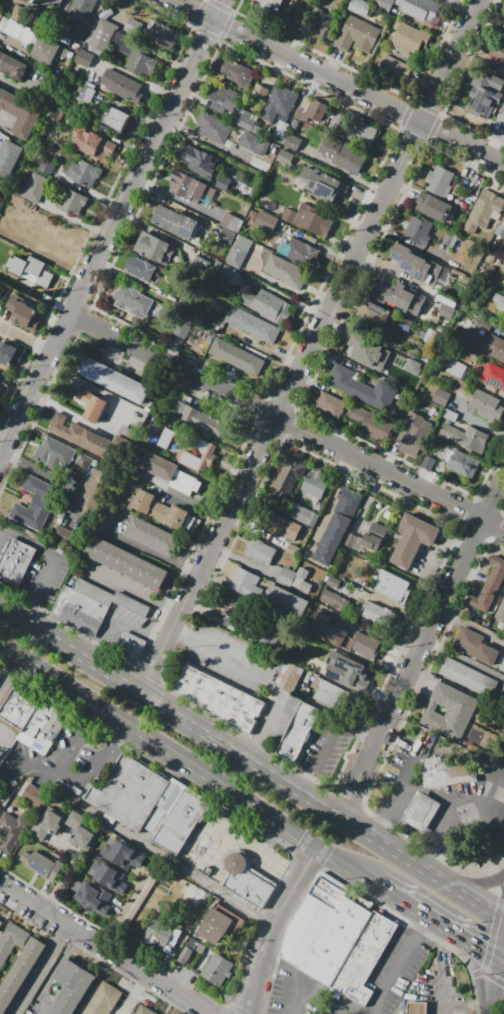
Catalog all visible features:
building: (67, 0)
building: (383, 3)
building: (269, 5)
building: (48, 7)
building: (359, 7)
building: (81, 10)
building: (421, 11)
building: (21, 15)
building: (321, 21)
building: (2, 23)
building: (14, 28)
building: (76, 31)
building: (502, 31)
building: (98, 35)
building: (357, 35)
building: (26, 36)
building: (162, 36)
road: (447, 37)
road: (295, 40)
building: (410, 42)
building: (47, 50)
building: (496, 51)
building: (84, 58)
road: (330, 62)
building: (12, 65)
building: (140, 66)
building: (391, 67)
building: (236, 73)
road: (338, 80)
road: (425, 81)
building: (119, 85)
building: (258, 91)
building: (484, 93)
building: (84, 94)
building: (218, 96)
building: (279, 104)
building: (502, 109)
building: (20, 112)
building: (310, 112)
building: (114, 119)
building: (246, 120)
road: (4, 121)
building: (214, 127)
building: (281, 129)
building: (361, 134)
building: (247, 141)
road: (497, 141)
building: (292, 142)
building: (98, 148)
building: (340, 157)
building: (8, 158)
building: (200, 162)
road: (470, 163)
building: (46, 166)
road: (344, 172)
building: (84, 173)
road: (493, 173)
building: (440, 181)
building: (223, 182)
building: (322, 184)
building: (32, 188)
road: (402, 188)
building: (191, 189)
road: (364, 196)
building: (71, 201)
building: (433, 206)
building: (483, 210)
building: (289, 215)
building: (164, 218)
building: (229, 221)
building: (312, 221)
building: (264, 222)
road: (353, 222)
road: (110, 227)
building: (188, 227)
road: (383, 228)
building: (500, 229)
building: (417, 230)
building: (226, 237)
building: (450, 238)
road: (343, 244)
building: (153, 249)
building: (301, 249)
building: (239, 251)
road: (337, 255)
road: (373, 263)
building: (416, 264)
building: (31, 270)
building: (282, 270)
building: (149, 273)
building: (229, 274)
building: (1, 291)
road: (316, 291)
building: (398, 297)
building: (130, 300)
building: (499, 302)
building: (267, 305)
building: (447, 311)
building: (23, 312)
building: (373, 312)
road: (317, 314)
building: (404, 324)
building: (180, 325)
building: (484, 325)
building: (256, 326)
building: (441, 329)
road: (25, 340)
building: (485, 344)
road: (310, 347)
building: (366, 347)
building: (9, 354)
road: (328, 354)
building: (235, 357)
road: (282, 357)
building: (456, 368)
building: (494, 376)
road: (226, 377)
building: (113, 379)
road: (308, 380)
building: (362, 388)
building: (441, 396)
building: (92, 405)
building: (486, 405)
building: (328, 406)
road: (61, 409)
building: (356, 415)
building: (449, 415)
road: (286, 421)
building: (57, 422)
building: (203, 422)
building: (376, 426)
building: (414, 430)
building: (467, 437)
building: (165, 438)
building: (89, 441)
building: (196, 451)
building: (53, 454)
building: (83, 462)
building: (461, 462)
road: (27, 464)
road: (231, 468)
building: (162, 471)
building: (286, 480)
building: (314, 484)
building: (91, 488)
building: (40, 497)
road: (212, 502)
building: (275, 505)
road: (194, 507)
building: (161, 510)
building: (302, 515)
building: (271, 523)
building: (337, 524)
building: (379, 529)
road: (253, 530)
building: (64, 536)
building: (153, 536)
building: (412, 539)
building: (352, 540)
road: (4, 541)
building: (371, 541)
building: (260, 553)
road: (240, 559)
road: (49, 560)
building: (125, 562)
road: (217, 562)
building: (14, 564)
road: (181, 566)
building: (295, 579)
building: (333, 582)
building: (246, 584)
building: (490, 585)
building: (391, 586)
road: (135, 591)
building: (287, 601)
building: (334, 601)
building: (91, 605)
road: (199, 606)
building: (500, 611)
building: (231, 613)
building: (372, 613)
road: (115, 621)
road: (374, 634)
building: (265, 636)
building: (343, 639)
building: (129, 647)
building: (475, 647)
road: (421, 650)
road: (465, 659)
building: (502, 666)
building: (343, 668)
building: (0, 674)
road: (9, 674)
building: (288, 676)
road: (259, 678)
building: (468, 678)
building: (331, 693)
building: (220, 698)
building: (449, 705)
road: (93, 715)
building: (31, 718)
road: (195, 729)
road: (118, 731)
building: (297, 732)
road: (326, 741)
road: (2, 745)
parking lot: (325, 749)
road: (186, 764)
building: (447, 772)
road: (71, 778)
building: (129, 792)
road: (431, 792)
building: (34, 795)
road: (395, 796)
road: (498, 803)
building: (0, 809)
road: (475, 809)
building: (422, 812)
building: (175, 816)
road: (498, 817)
building: (48, 824)
building: (81, 830)
building: (11, 831)
road: (438, 835)
road: (216, 837)
road: (134, 839)
parking lot: (209, 846)
building: (122, 855)
road: (263, 855)
road: (405, 860)
building: (42, 864)
road: (423, 871)
road: (429, 874)
building: (109, 875)
building: (246, 879)
road: (438, 880)
road: (476, 883)
road: (447, 885)
road: (501, 887)
road: (388, 890)
road: (458, 892)
building: (197, 895)
building: (94, 898)
road: (475, 904)
road: (412, 905)
road: (424, 913)
road: (493, 916)
building: (311, 918)
road: (438, 921)
building: (1, 923)
road: (423, 923)
road: (271, 925)
building: (215, 926)
road: (449, 928)
road: (454, 931)
road: (493, 932)
building: (158, 934)
building: (338, 937)
road: (464, 938)
building: (11, 941)
road: (103, 949)
road: (408, 949)
building: (187, 950)
traffic signals: (484, 950)
road: (485, 950)
road: (444, 952)
road: (502, 952)
building: (364, 959)
road: (269, 960)
road: (502, 960)
road: (37, 969)
road: (497, 969)
road: (52, 970)
building: (216, 970)
parking lot: (395, 971)
road: (478, 971)
building: (19, 972)
road: (491, 976)
road: (302, 982)
road: (494, 982)
building: (70, 988)
parking lot: (294, 991)
road: (382, 991)
road: (132, 995)
road: (445, 997)
building: (102, 999)
road: (491, 999)
road: (346, 1006)
building: (417, 1008)
parking lot: (331, 1009)
building: (143, 1010)
road: (248, 1012)

